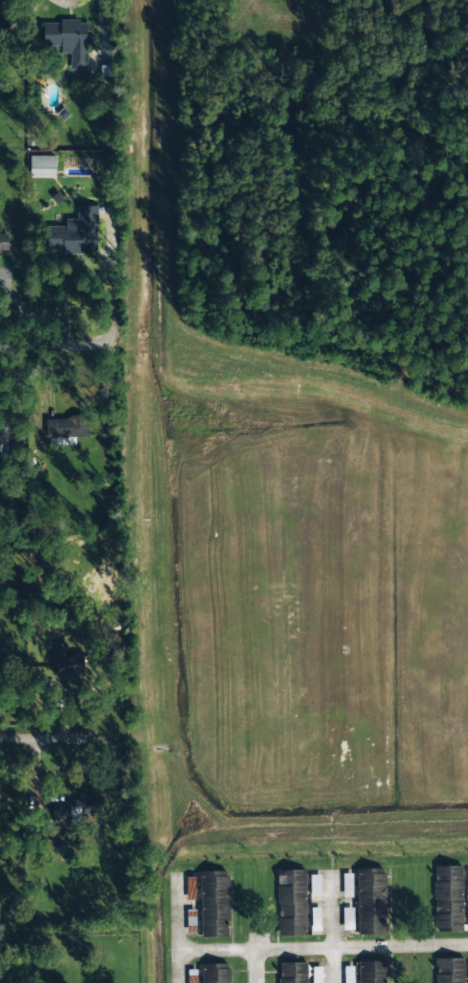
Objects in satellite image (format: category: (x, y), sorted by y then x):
building: (4, 27)
building: (69, 39)
building: (42, 166)
building: (75, 232)
building: (4, 242)
road: (2, 349)
building: (67, 426)
building: (2, 435)
building: (14, 439)
building: (69, 662)
building: (1, 673)
road: (61, 739)
building: (76, 812)
building: (190, 888)
building: (446, 899)
building: (370, 901)
building: (214, 903)
building: (290, 903)
building: (467, 918)
road: (180, 928)
road: (331, 931)
road: (363, 947)
road: (220, 952)
road: (259, 967)
building: (448, 970)
building: (291, 972)
building: (372, 972)
building: (215, 973)

